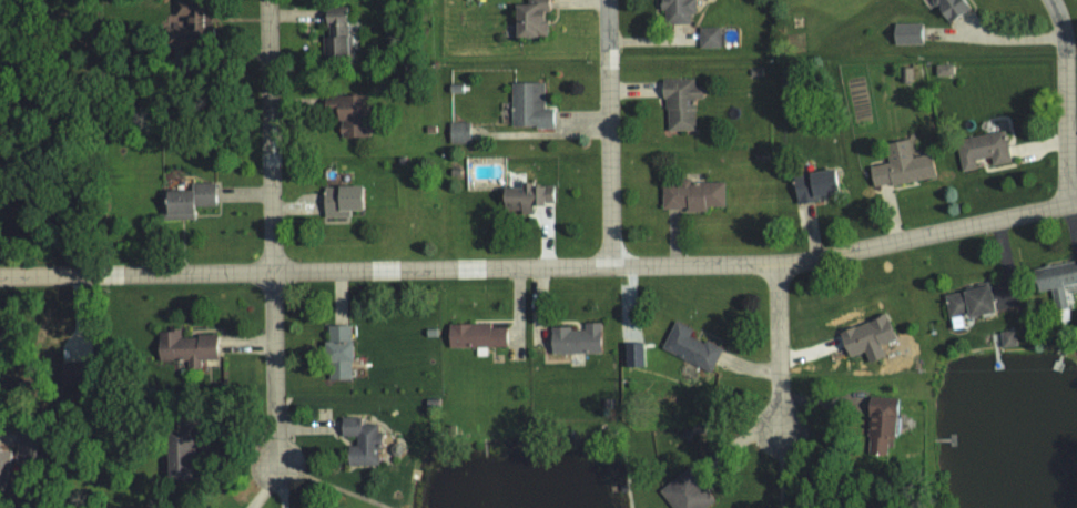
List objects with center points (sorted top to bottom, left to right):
building: (947, 8)
building: (675, 11)
building: (529, 18)
building: (192, 19)
building: (905, 33)
building: (334, 35)
building: (709, 37)
road: (1012, 38)
building: (943, 70)
road: (1066, 101)
building: (679, 103)
building: (529, 106)
building: (347, 114)
building: (458, 133)
road: (609, 133)
building: (982, 150)
building: (898, 166)
building: (814, 185)
building: (690, 195)
building: (524, 197)
building: (186, 200)
building: (339, 201)
road: (272, 231)
road: (541, 267)
building: (1054, 281)
building: (967, 303)
building: (474, 336)
building: (865, 338)
building: (1007, 338)
building: (573, 339)
building: (184, 347)
building: (688, 347)
road: (778, 347)
building: (337, 353)
building: (631, 355)
building: (878, 425)
building: (359, 441)
building: (176, 453)
building: (4, 464)
building: (684, 494)

